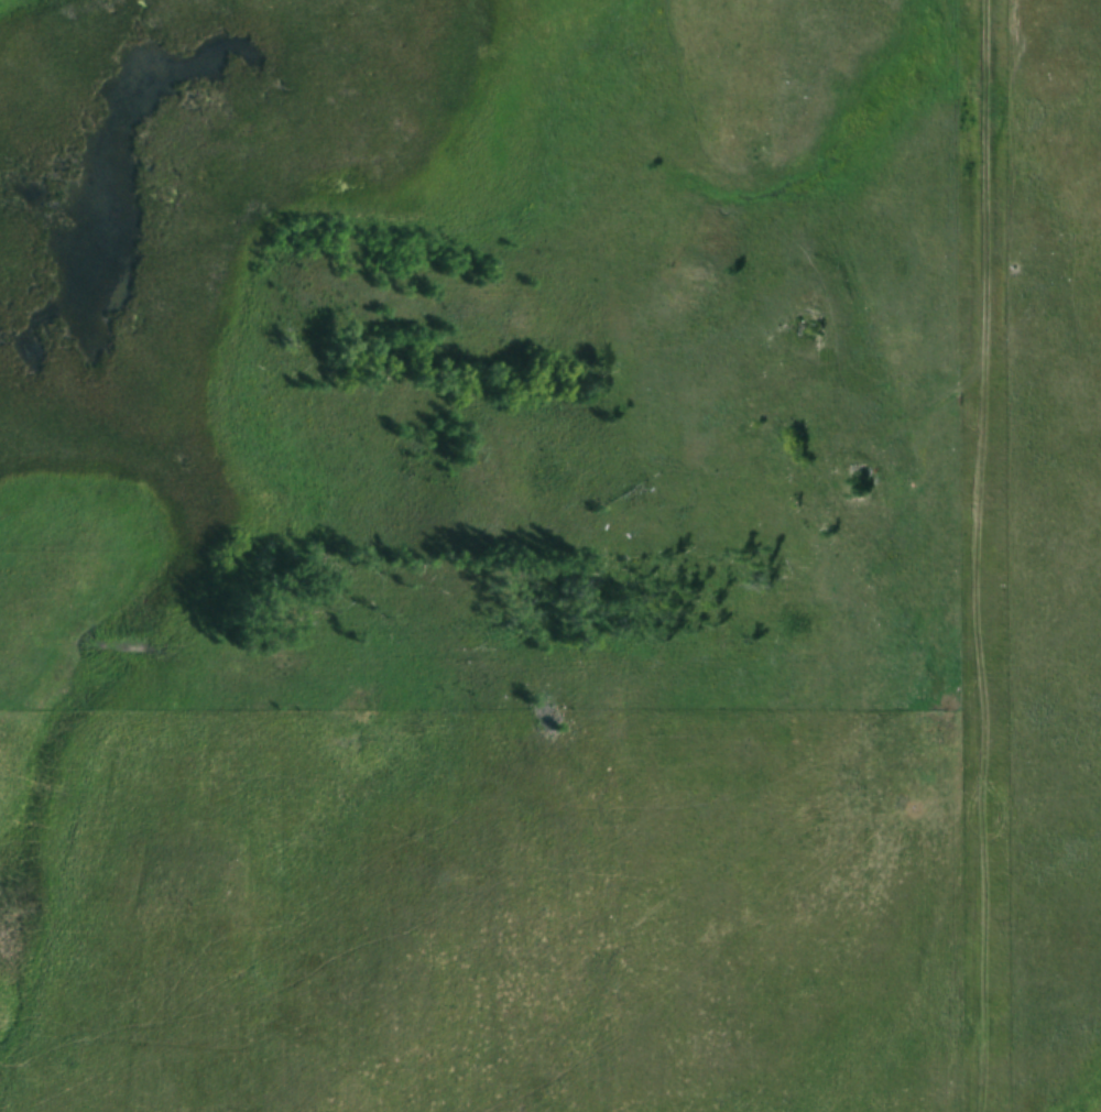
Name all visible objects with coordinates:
road: (988, 555)

